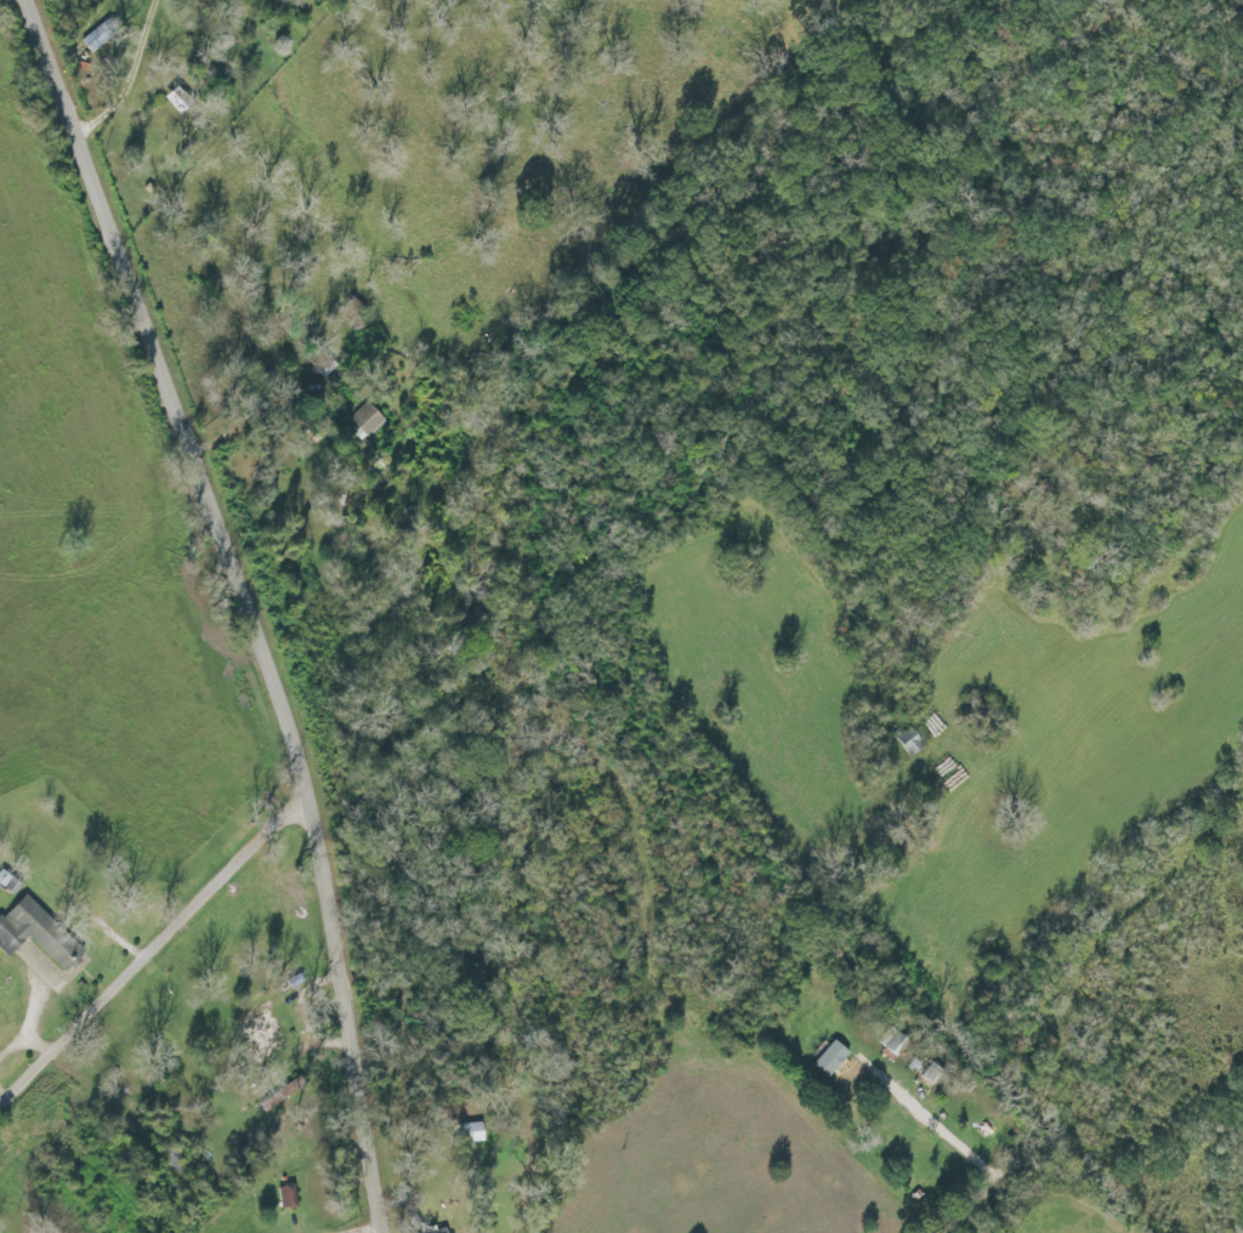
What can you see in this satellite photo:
building: (361, 422)
road: (251, 604)
building: (906, 745)
building: (29, 924)
road: (151, 950)
building: (827, 1062)
building: (466, 1135)
road: (974, 1159)
building: (283, 1199)

